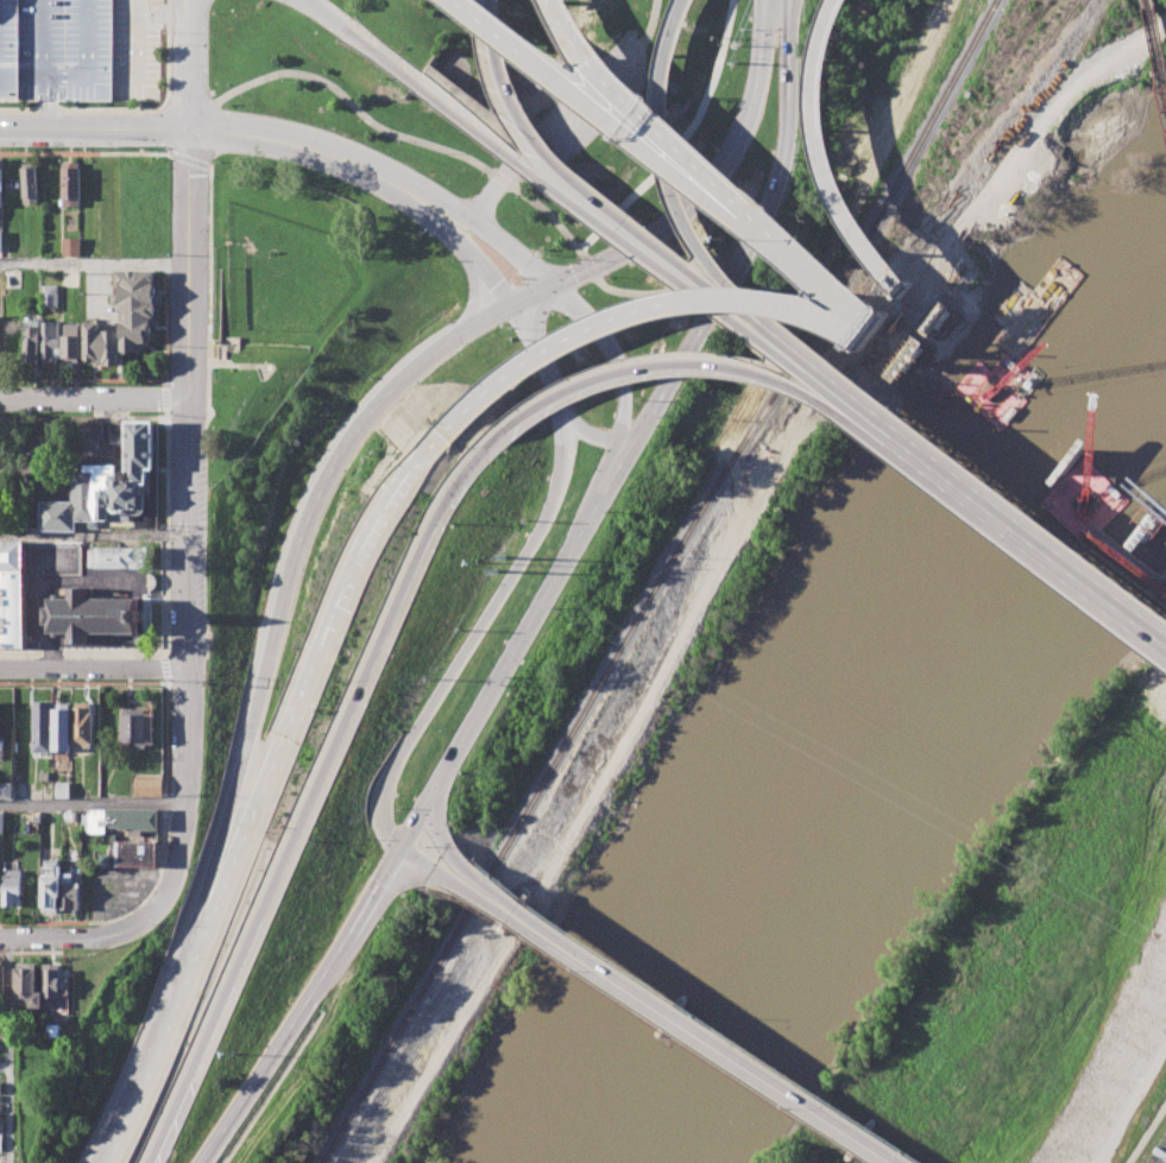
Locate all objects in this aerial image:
road: (324, 13)
road: (794, 20)
road: (649, 25)
road: (769, 30)
railway: (1155, 43)
parking lot: (78, 49)
road: (168, 50)
road: (638, 53)
road: (187, 63)
road: (63, 76)
road: (313, 76)
road: (48, 78)
road: (566, 87)
road: (613, 87)
parking lot: (588, 103)
road: (518, 112)
road: (49, 116)
road: (465, 118)
road: (94, 127)
road: (680, 139)
road: (82, 153)
road: (670, 176)
road: (368, 181)
road: (500, 181)
building: (30, 183)
building: (69, 183)
road: (713, 184)
railway: (935, 187)
building: (0, 188)
road: (467, 217)
road: (756, 239)
building: (1, 240)
building: (71, 246)
road: (784, 253)
road: (94, 264)
road: (673, 272)
road: (648, 292)
road: (908, 292)
building: (50, 295)
road: (529, 296)
building: (137, 306)
road: (649, 309)
road: (165, 324)
building: (31, 340)
park: (297, 340)
building: (1, 341)
building: (50, 341)
building: (70, 343)
building: (101, 345)
road: (547, 358)
road: (681, 361)
flagpole: (270, 366)
road: (82, 379)
road: (827, 379)
road: (165, 399)
road: (94, 400)
road: (82, 418)
road: (597, 438)
road: (1025, 443)
building: (106, 486)
road: (948, 487)
road: (188, 523)
road: (94, 532)
road: (165, 532)
road: (1028, 533)
road: (295, 548)
building: (116, 556)
railway: (657, 581)
building: (12, 594)
road: (701, 594)
building: (89, 615)
road: (473, 637)
road: (322, 645)
road: (519, 647)
road: (86, 652)
road: (93, 665)
road: (166, 666)
road: (168, 680)
building: (83, 725)
building: (43, 726)
building: (62, 726)
building: (135, 728)
building: (1, 729)
river: (875, 759)
building: (149, 784)
road: (168, 785)
building: (6, 790)
road: (308, 799)
road: (92, 802)
building: (121, 820)
building: (1, 822)
building: (137, 853)
road: (421, 854)
building: (51, 884)
building: (13, 885)
parking lot: (121, 889)
building: (71, 896)
road: (76, 935)
building: (2, 978)
building: (29, 984)
building: (52, 984)
road: (301, 1004)
road: (664, 1013)
road: (169, 1022)
building: (49, 1036)
road: (8, 1049)
building: (1, 1087)
building: (1, 1102)
building: (1, 1125)
road: (1146, 1132)
building: (1, 1142)
parking lot: (1160, 1153)

